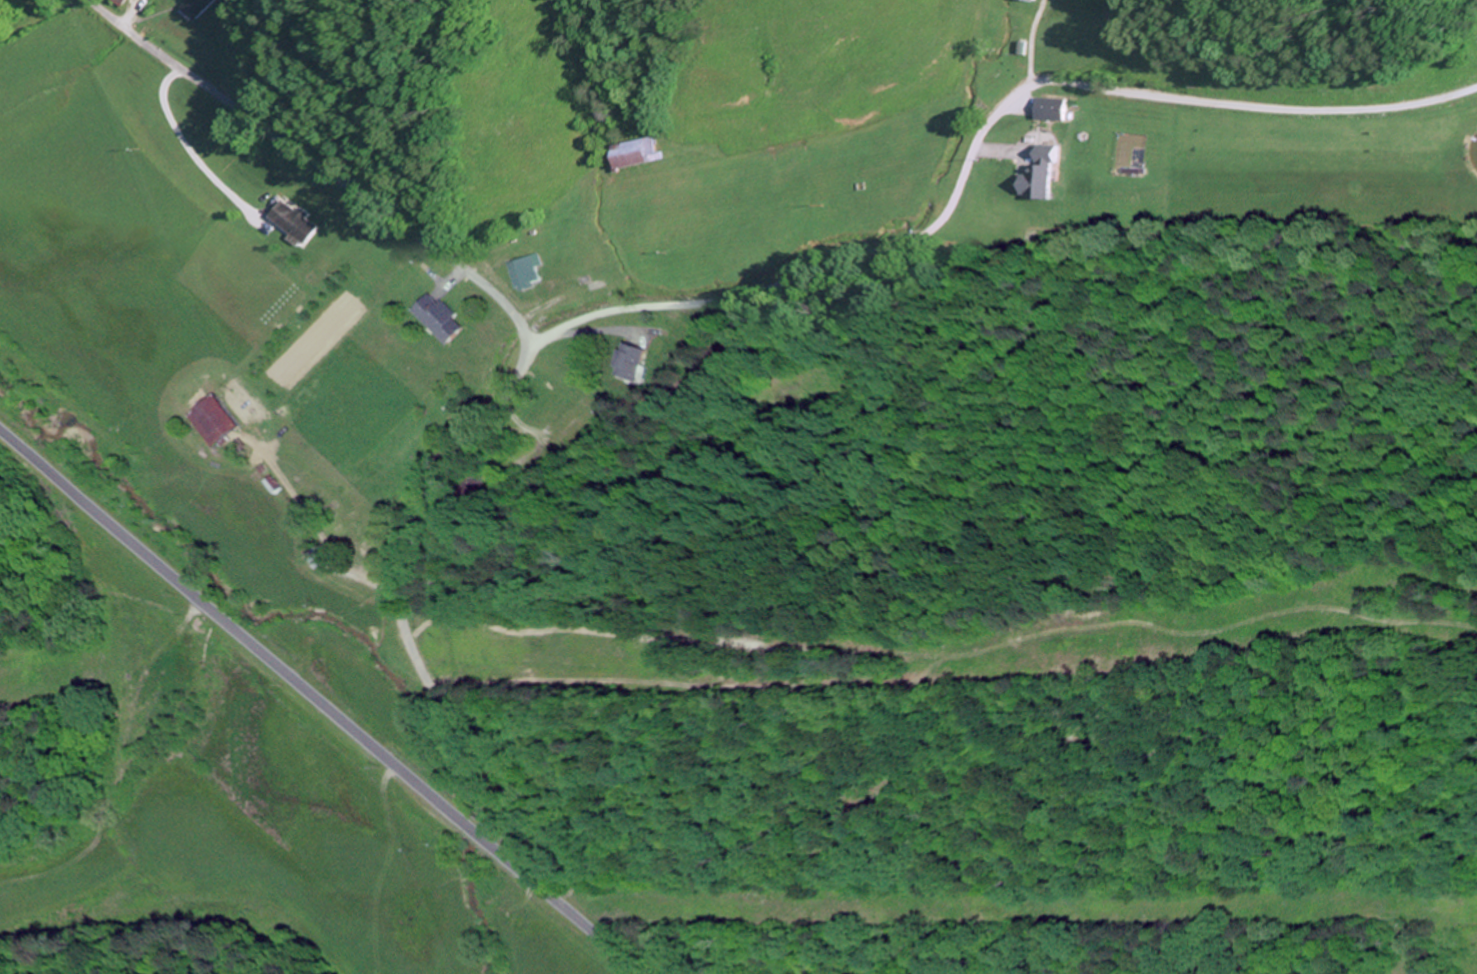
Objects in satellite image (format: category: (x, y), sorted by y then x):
building: (121, 1)
building: (197, 8)
building: (988, 24)
building: (1053, 109)
road: (979, 146)
building: (638, 152)
building: (1042, 178)
building: (293, 221)
building: (528, 272)
building: (439, 319)
building: (630, 362)
road: (520, 366)
building: (214, 421)
road: (319, 702)

